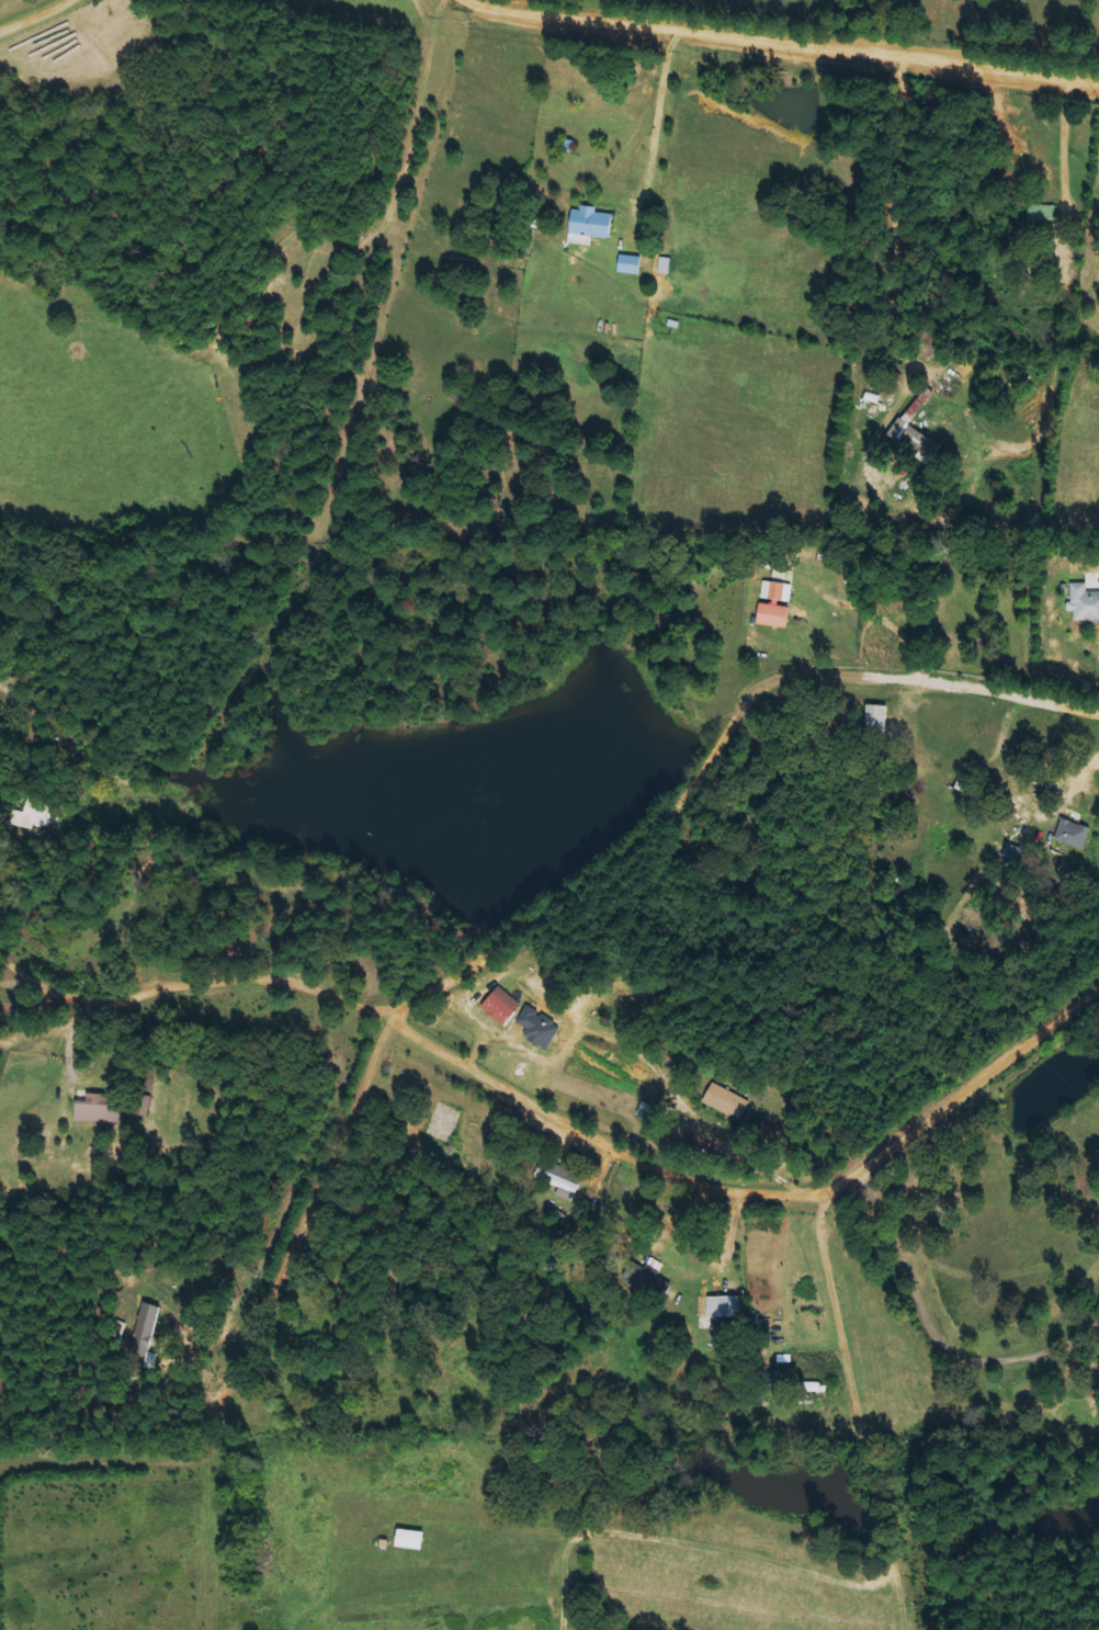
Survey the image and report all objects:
road: (36, 15)
road: (780, 39)
building: (589, 223)
building: (627, 264)
building: (913, 429)
building: (1083, 602)
building: (772, 604)
road: (800, 673)
road: (1051, 702)
building: (1070, 834)
building: (499, 1006)
road: (975, 1082)
building: (724, 1100)
building: (91, 1108)
building: (565, 1180)
road: (760, 1199)
building: (641, 1274)
building: (721, 1310)
building: (140, 1329)
building: (807, 1386)
building: (407, 1538)

